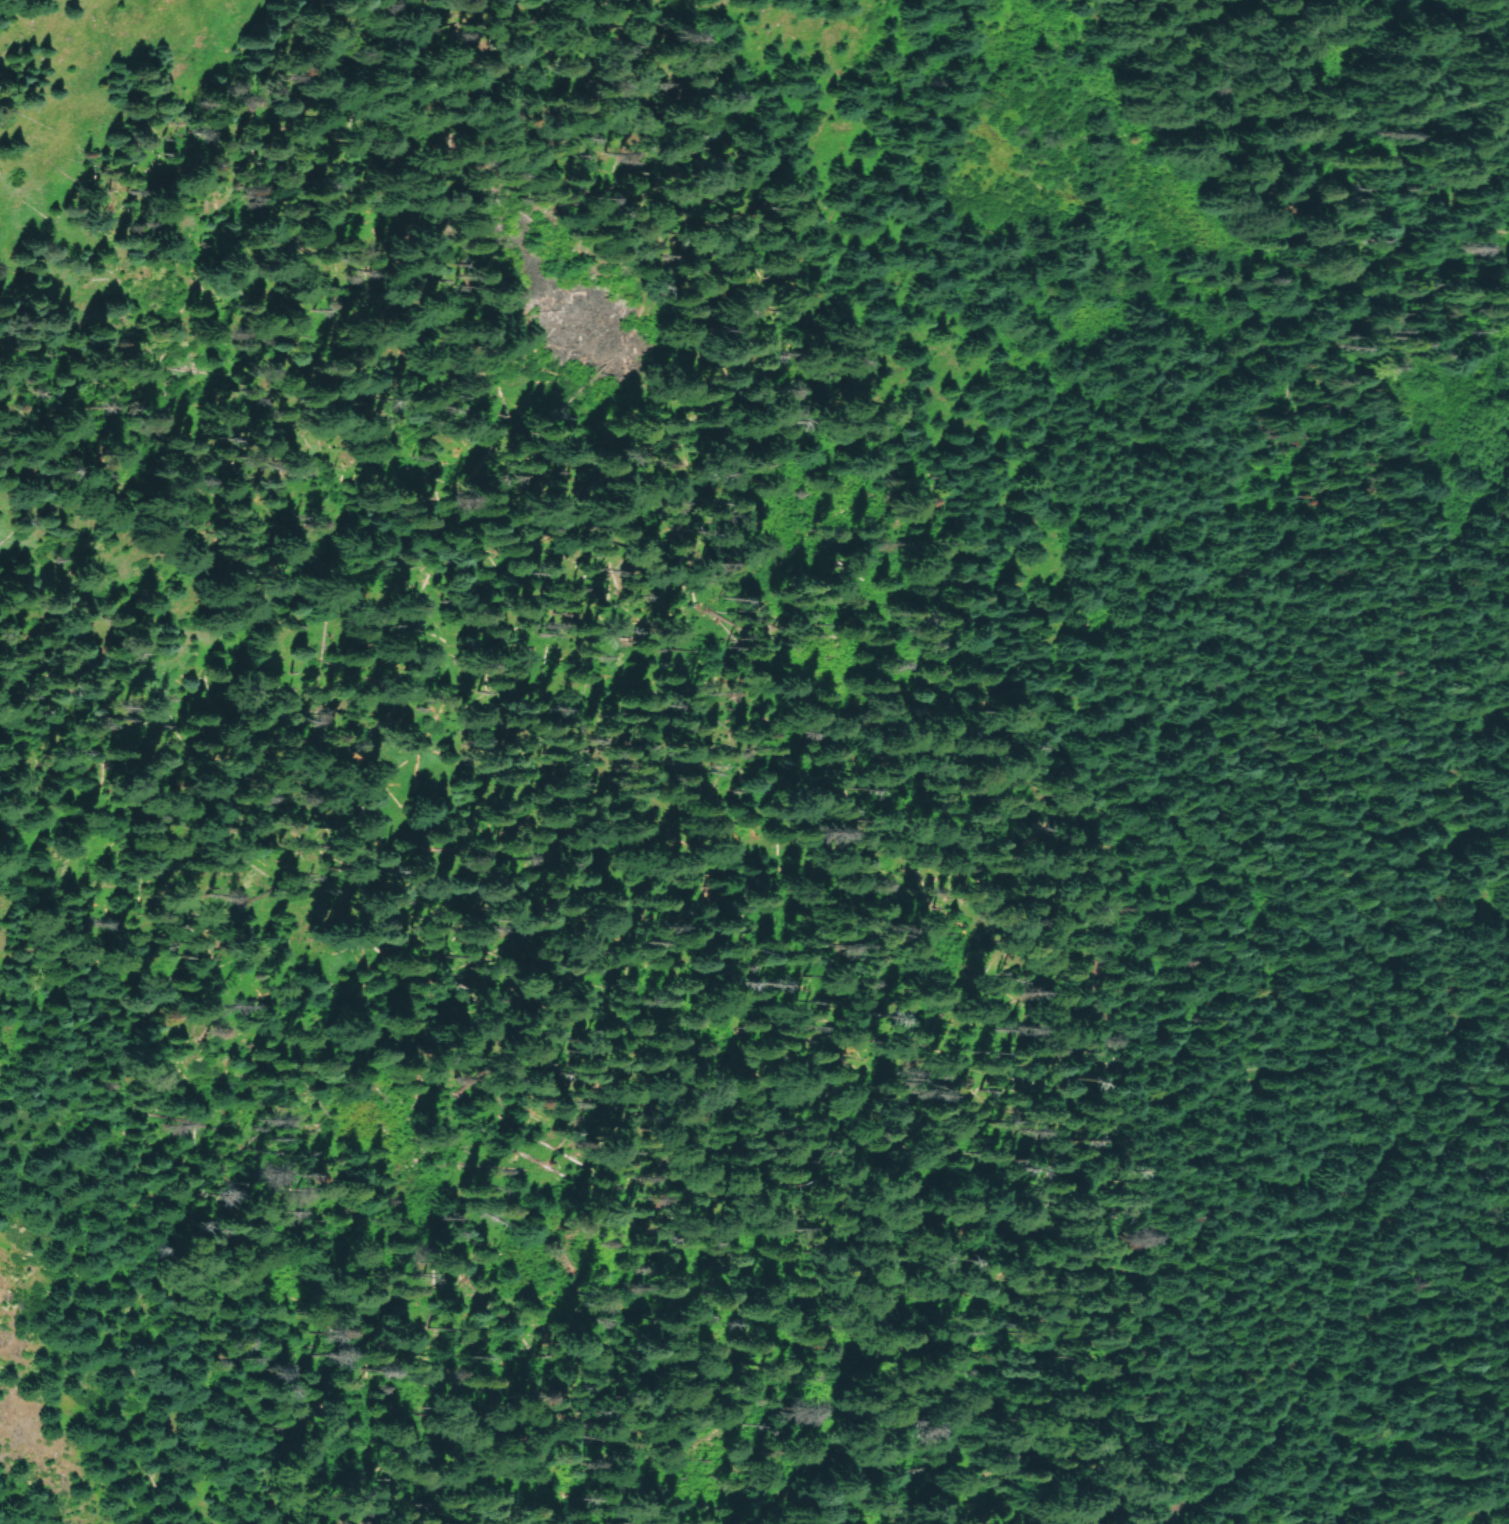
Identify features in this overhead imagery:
road: (1386, 1125)
road: (1472, 1514)

